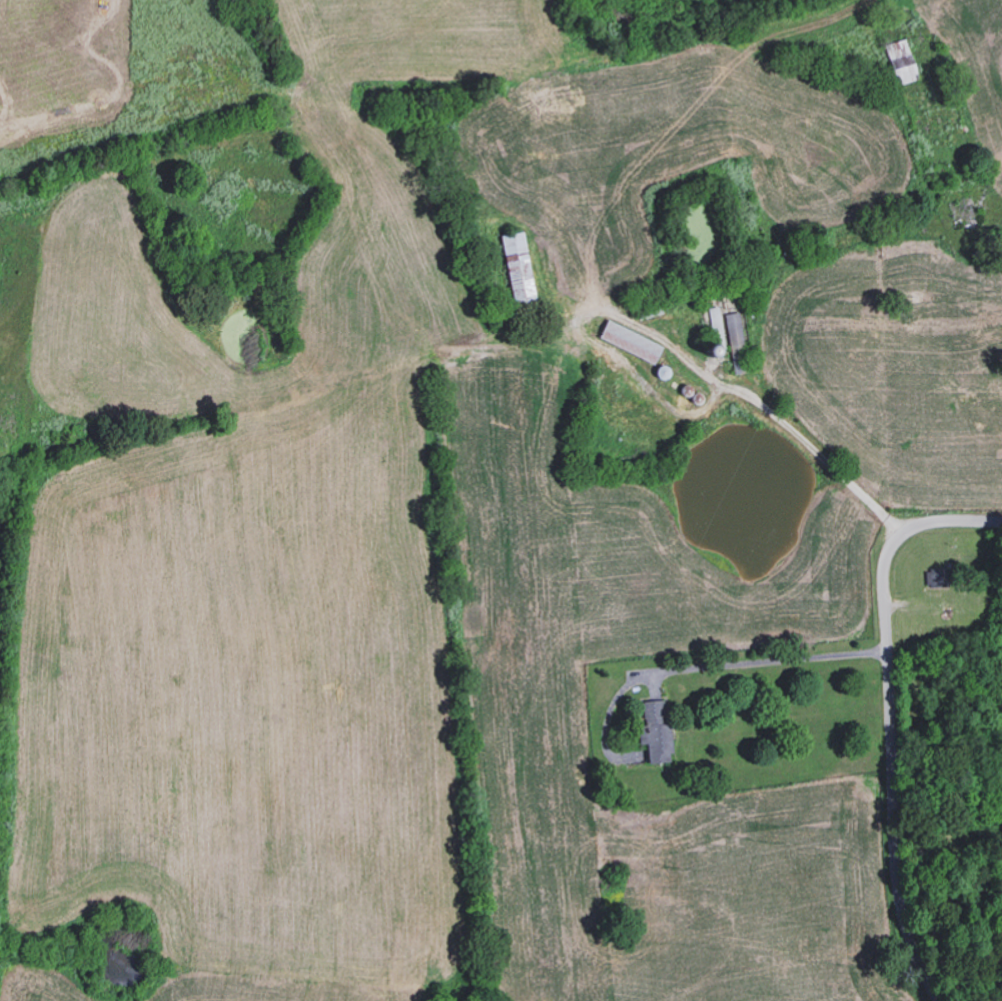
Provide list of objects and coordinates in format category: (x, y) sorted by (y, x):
building: (901, 61)
building: (517, 269)
building: (734, 329)
building: (629, 342)
road: (806, 439)
building: (936, 577)
road: (771, 660)
road: (890, 713)
building: (655, 730)

